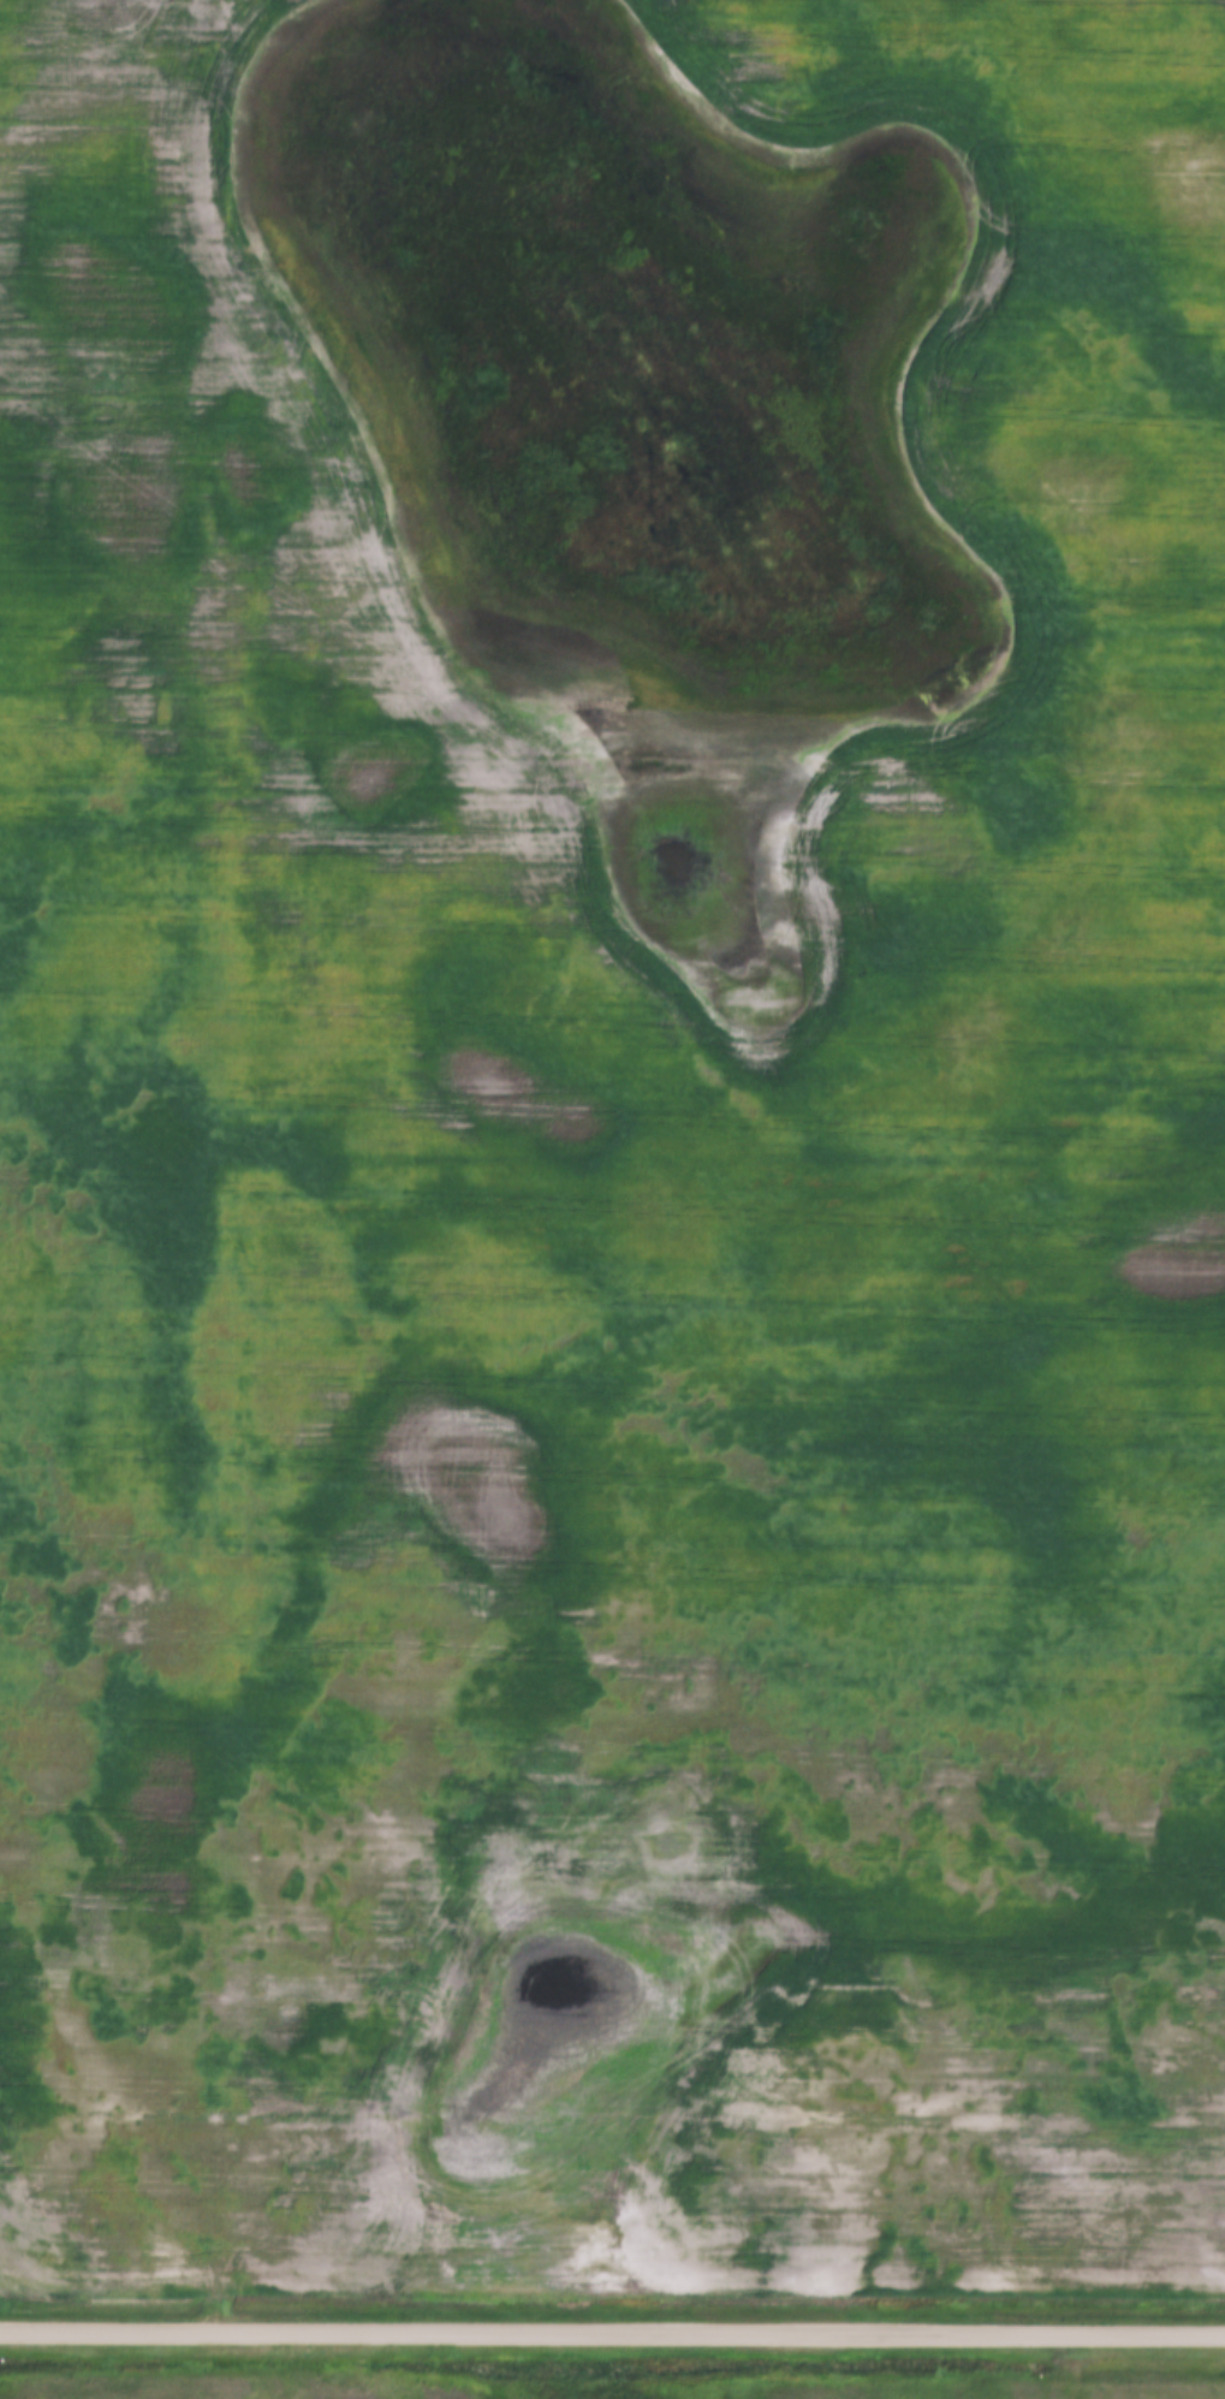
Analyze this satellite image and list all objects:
road: (612, 2329)

